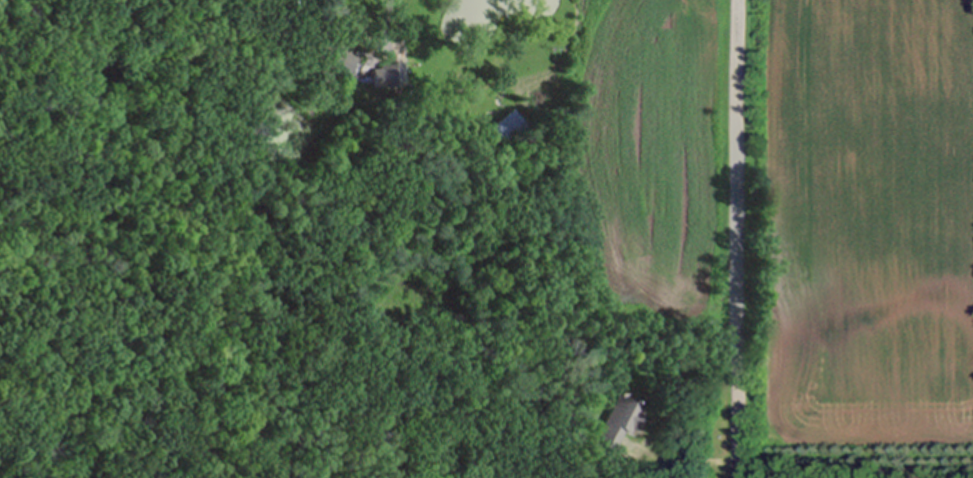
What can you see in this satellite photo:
road: (383, 37)
building: (342, 61)
building: (510, 129)
road: (737, 238)
building: (619, 422)

